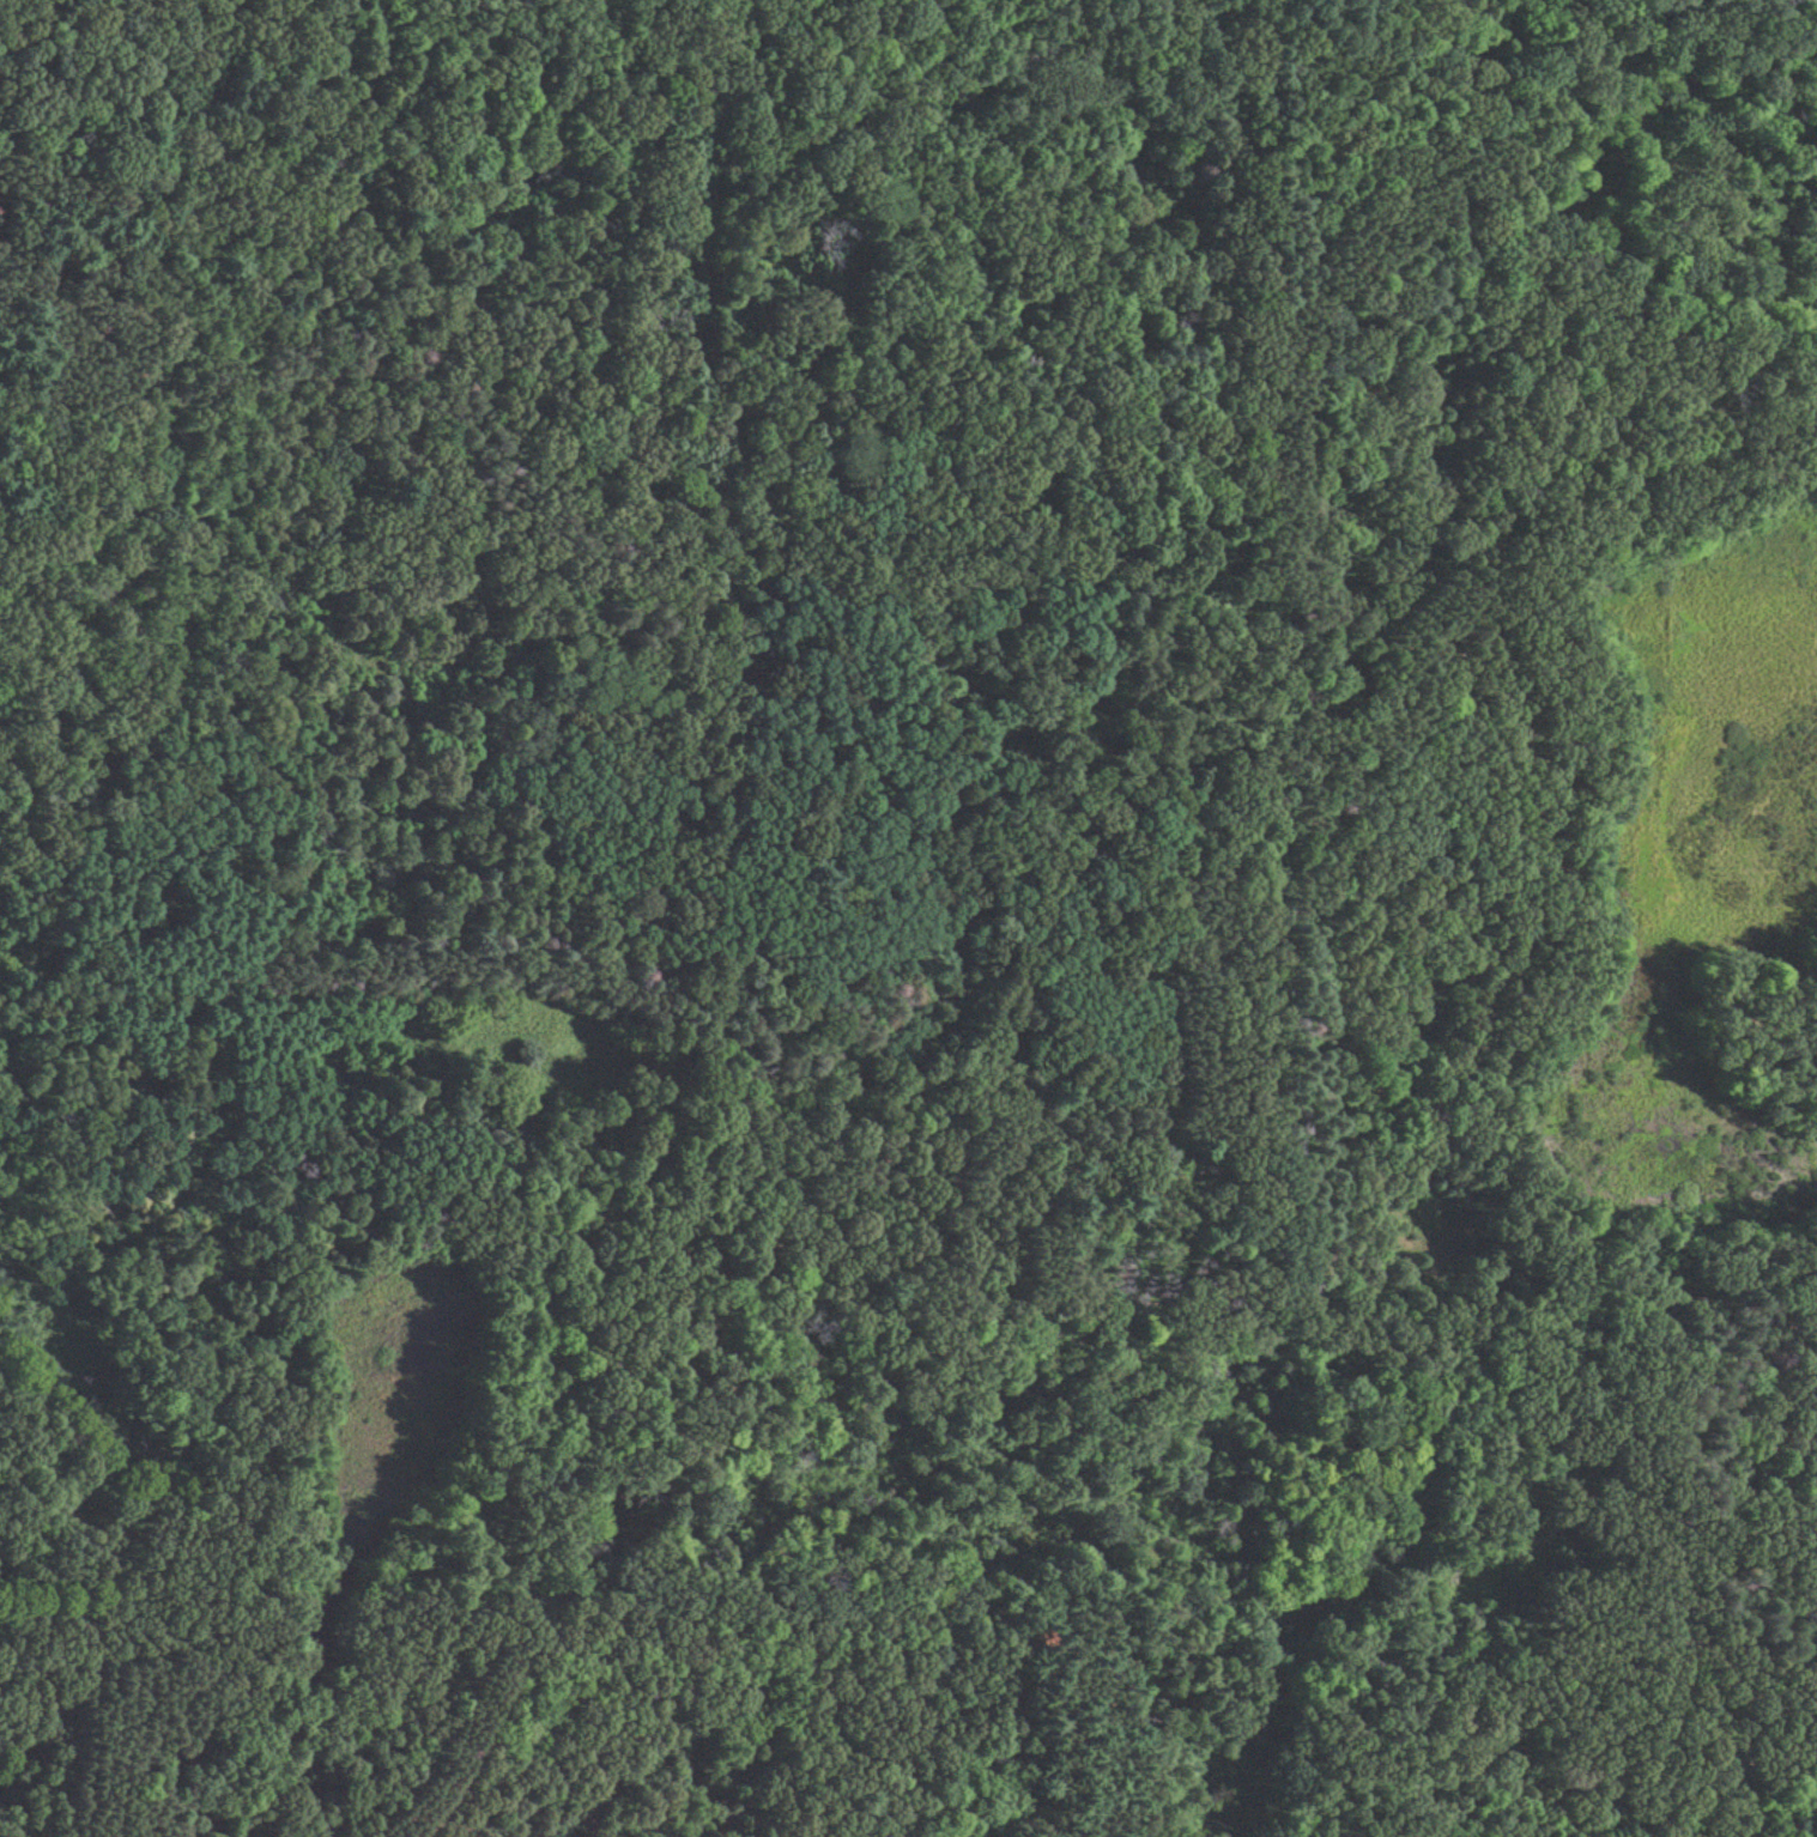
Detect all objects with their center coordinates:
road: (159, 44)
road: (1356, 50)
road: (135, 365)
road: (1673, 441)
road: (1218, 657)
road: (1486, 896)
road: (898, 1317)
road: (529, 1433)
road: (701, 1684)
road: (48, 1697)
road: (104, 1738)
road: (1791, 1803)

